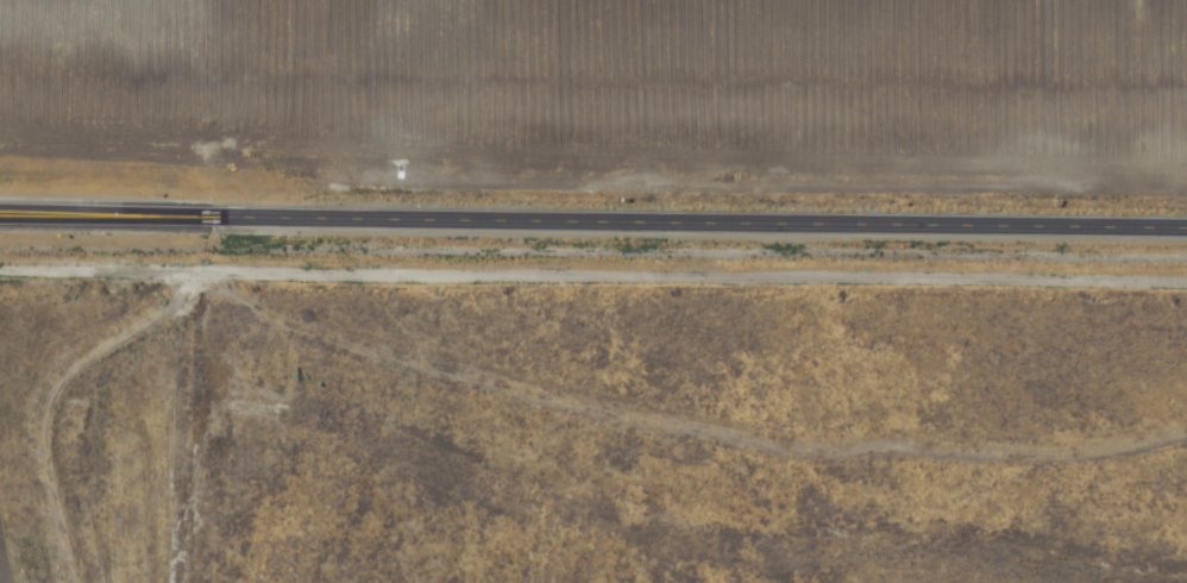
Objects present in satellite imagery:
road: (593, 221)
crop: (589, 433)

